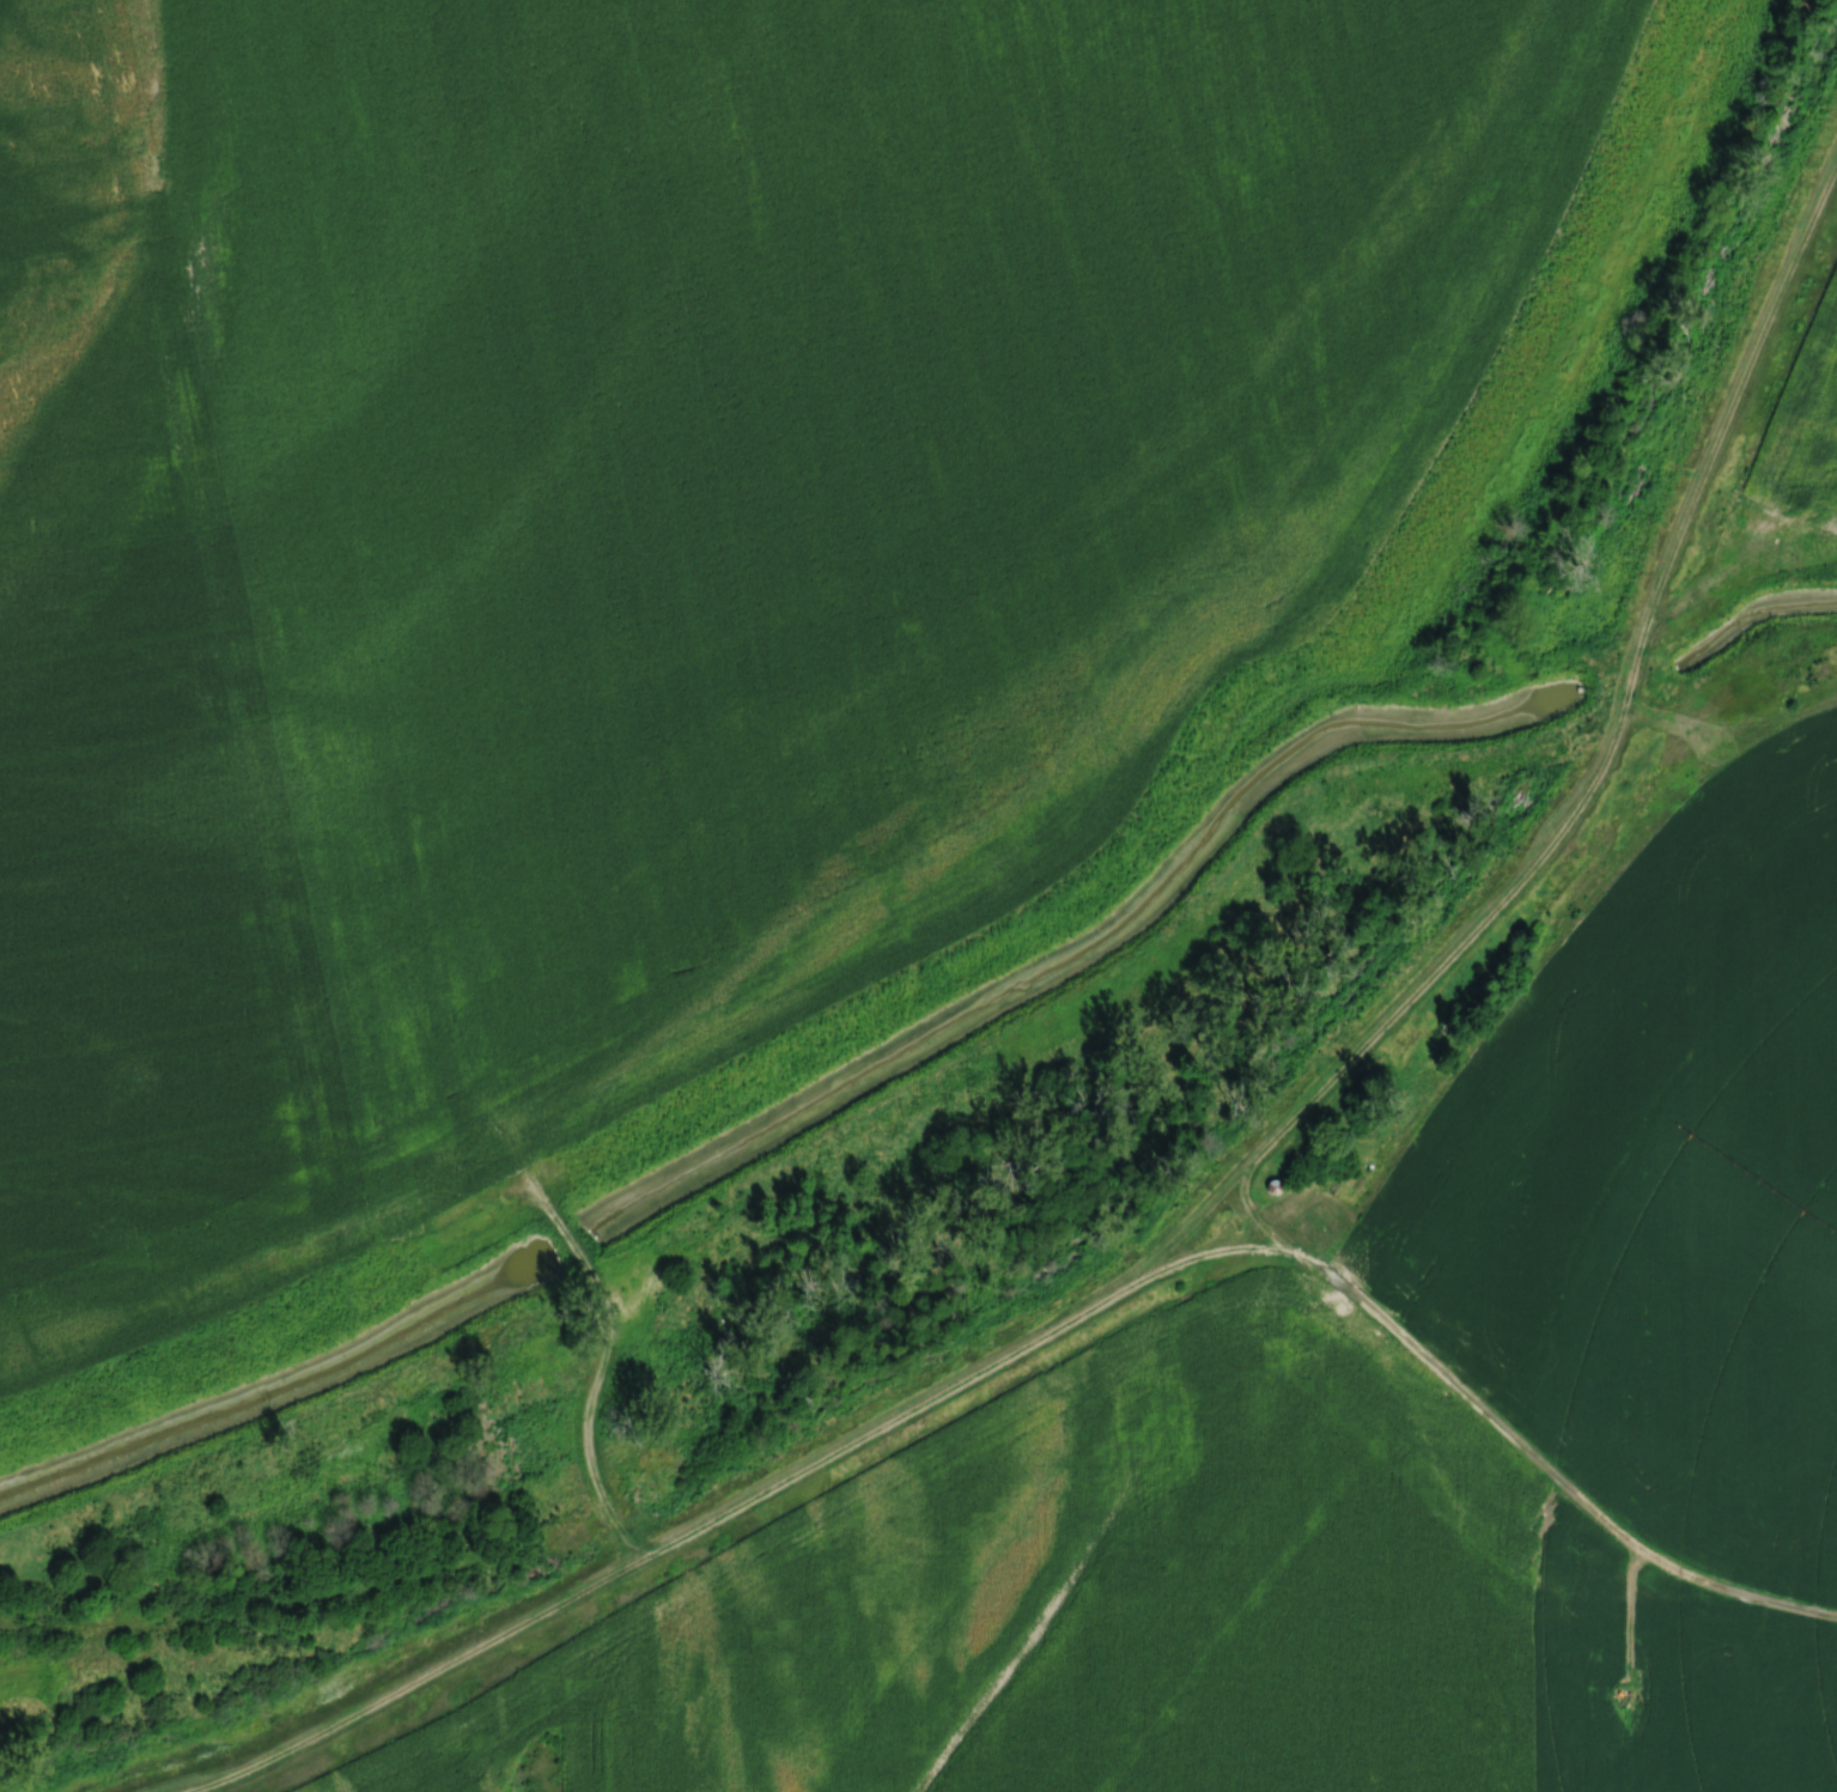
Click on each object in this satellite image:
road: (1722, 435)
road: (1722, 731)

